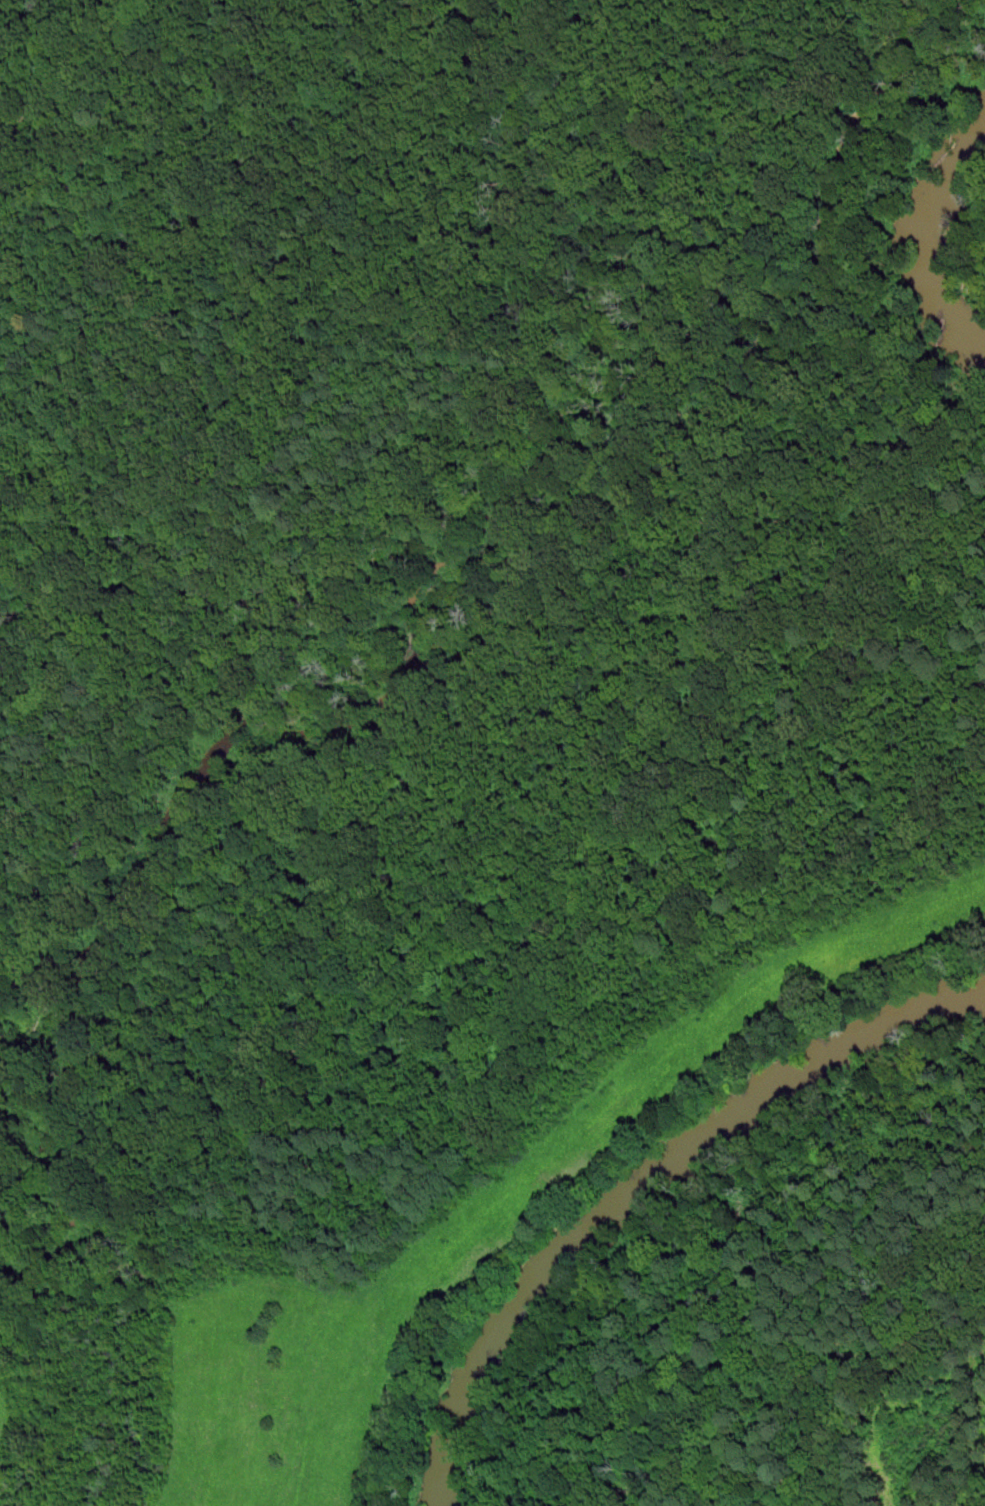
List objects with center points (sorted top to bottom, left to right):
river: (942, 254)
river: (653, 1197)
road: (812, 1458)

